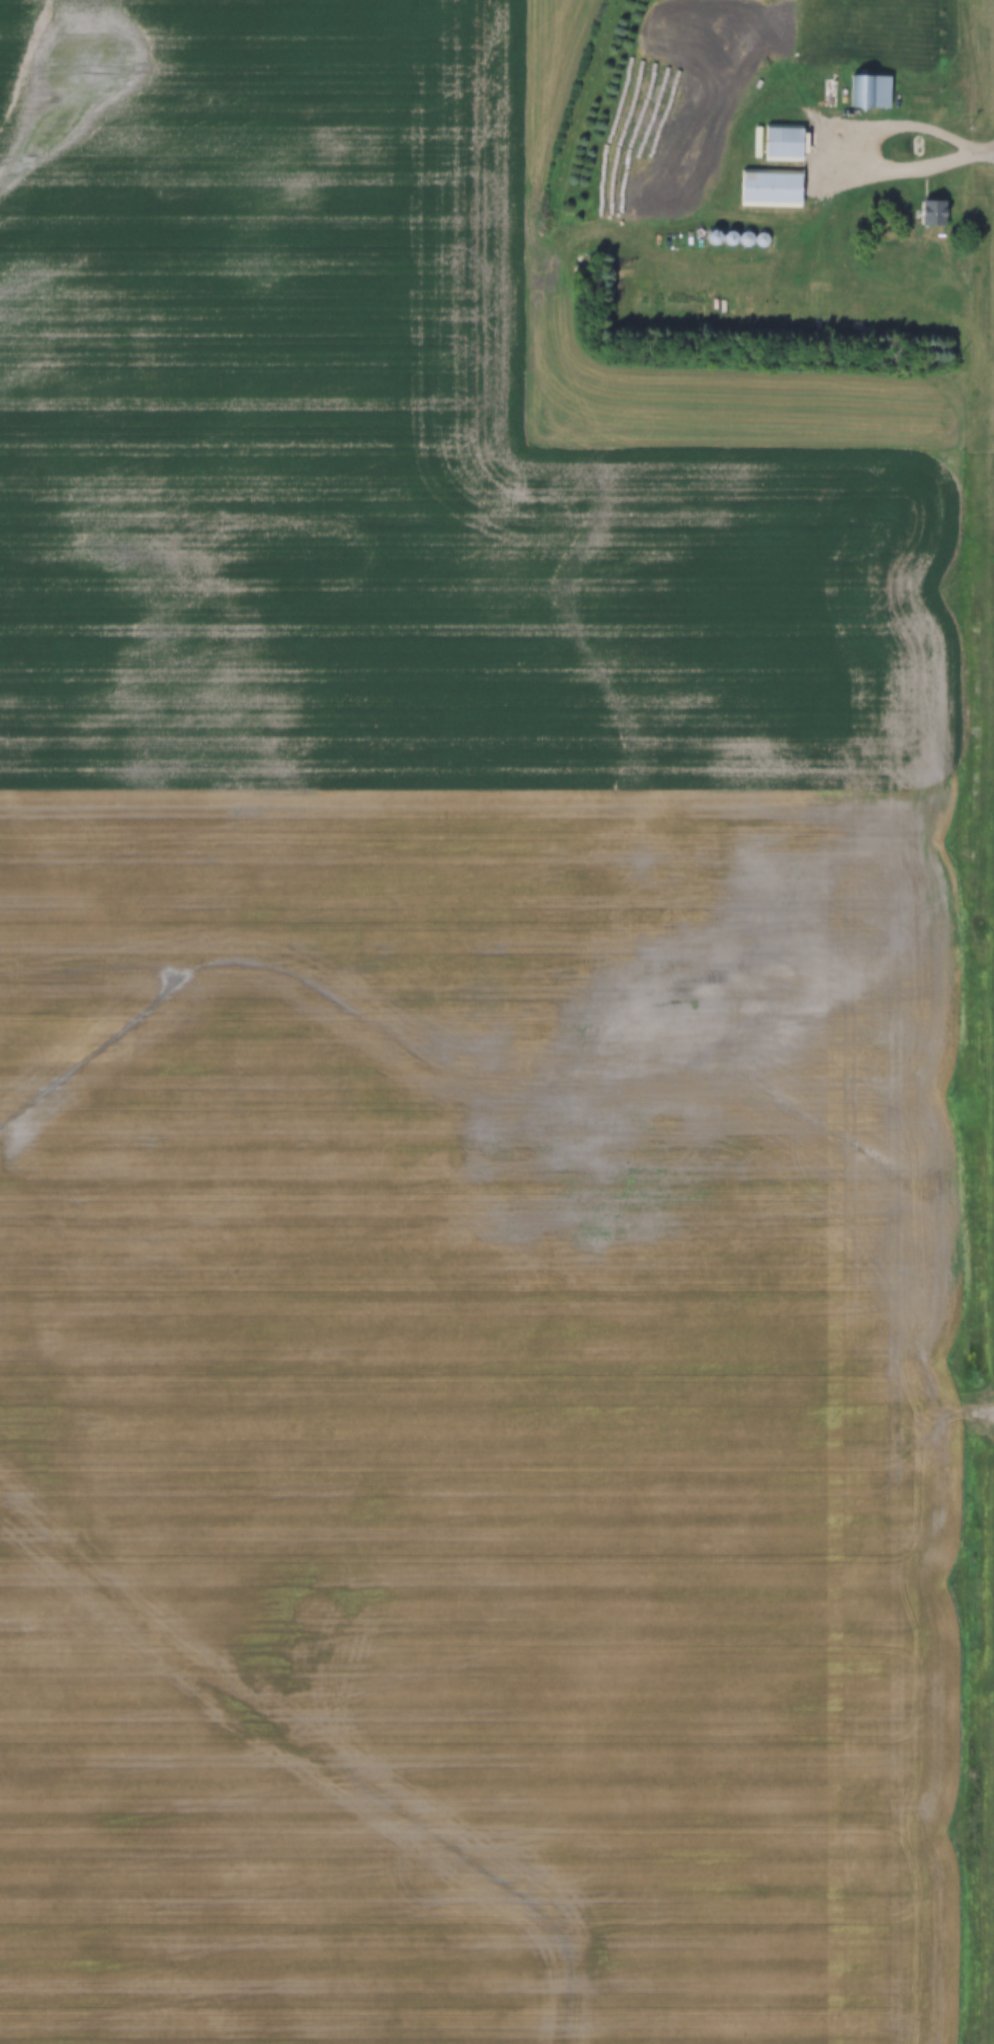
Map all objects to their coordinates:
building: (869, 90)
building: (783, 139)
road: (877, 146)
road: (981, 153)
building: (771, 185)
building: (934, 213)
building: (777, 220)
building: (731, 236)
silo: (731, 236)
building: (714, 237)
silo: (714, 237)
building: (762, 237)
silo: (762, 237)
building: (747, 238)
silo: (747, 238)

